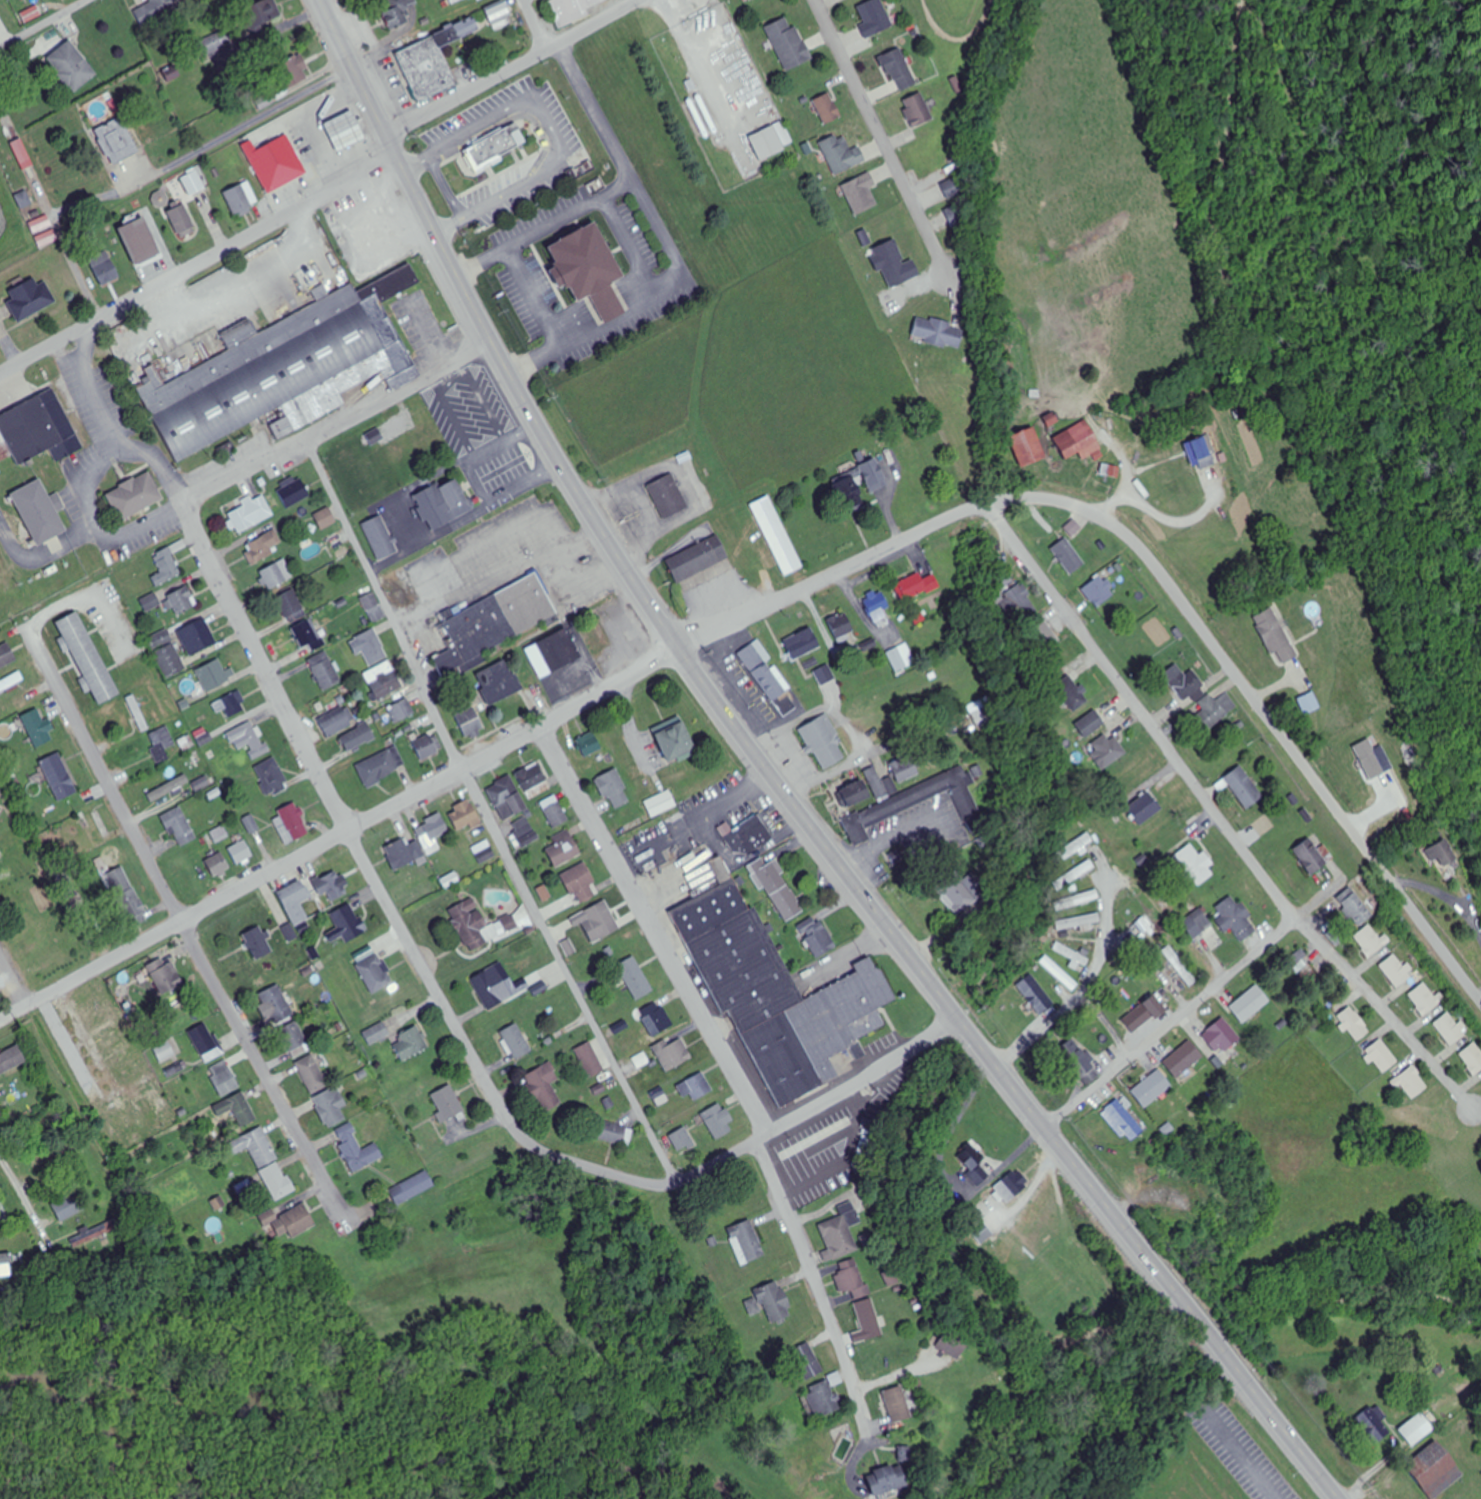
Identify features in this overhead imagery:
building: (751, 0)
building: (569, 6)
building: (159, 10)
building: (395, 11)
building: (498, 12)
building: (262, 14)
building: (875, 19)
road: (42, 23)
road: (538, 25)
building: (465, 28)
building: (219, 39)
building: (789, 43)
street lamp: (368, 48)
building: (427, 65)
building: (72, 67)
road: (516, 69)
building: (899, 71)
building: (291, 72)
building: (828, 108)
building: (918, 111)
road: (528, 116)
road: (5, 119)
road: (247, 125)
building: (343, 130)
gas station: (343, 130)
road: (553, 131)
road: (884, 137)
street lamp: (411, 138)
building: (772, 139)
building: (296, 140)
building: (116, 141)
building: (495, 144)
building: (843, 154)
building: (274, 163)
flagpole: (451, 180)
building: (193, 184)
road: (446, 186)
building: (861, 194)
building: (241, 199)
building: (182, 221)
road: (546, 226)
building: (362, 231)
road: (65, 240)
building: (140, 241)
road: (631, 243)
road: (673, 250)
flagpole: (528, 252)
road: (201, 263)
building: (104, 267)
building: (591, 267)
road: (1221, 274)
building: (391, 284)
road: (535, 296)
building: (30, 299)
street lamp: (502, 313)
building: (938, 333)
flagpole: (42, 368)
flagpole: (37, 376)
building: (277, 377)
street lamp: (551, 399)
building: (1051, 420)
road: (116, 426)
road: (338, 427)
building: (38, 430)
building: (424, 442)
building: (1079, 442)
building: (1028, 448)
building: (1205, 452)
flagpole: (123, 465)
building: (860, 485)
building: (375, 488)
building: (292, 492)
building: (668, 494)
building: (134, 495)
building: (446, 501)
building: (41, 511)
building: (251, 514)
building: (326, 519)
building: (777, 535)
building: (379, 538)
building: (263, 548)
building: (1068, 553)
building: (699, 557)
building: (166, 567)
building: (273, 577)
building: (917, 586)
building: (1099, 593)
building: (182, 602)
building: (151, 603)
building: (1017, 605)
building: (291, 607)
building: (878, 607)
building: (373, 608)
building: (493, 622)
building: (842, 629)
building: (308, 636)
building: (1044, 636)
building: (197, 638)
building: (1277, 638)
building: (803, 644)
building: (369, 648)
building: (166, 655)
building: (6, 656)
building: (88, 657)
building: (901, 658)
building: (564, 662)
building: (325, 672)
building: (213, 676)
building: (769, 676)
building: (824, 676)
building: (385, 681)
building: (11, 682)
building: (499, 683)
building: (1186, 684)
building: (1071, 694)
building: (878, 703)
building: (1310, 704)
building: (230, 705)
building: (1216, 711)
building: (401, 712)
building: (983, 718)
building: (338, 722)
building: (470, 723)
building: (1091, 725)
road: (544, 726)
building: (37, 729)
building: (674, 737)
building: (358, 738)
building: (248, 740)
building: (825, 741)
building: (161, 743)
building: (590, 745)
building: (428, 747)
building: (1108, 750)
road: (1294, 751)
building: (378, 769)
building: (906, 771)
building: (271, 776)
building: (59, 777)
road: (783, 780)
building: (533, 781)
building: (877, 784)
building: (1245, 788)
building: (614, 790)
building: (158, 793)
building: (857, 795)
building: (507, 799)
building: (913, 802)
building: (661, 804)
building: (1145, 809)
building: (555, 812)
road: (1224, 812)
building: (464, 816)
road: (488, 816)
road: (699, 820)
building: (291, 825)
building: (96, 826)
building: (179, 827)
building: (432, 832)
building: (524, 833)
building: (746, 835)
building: (1074, 849)
building: (564, 850)
building: (484, 852)
building: (241, 853)
building: (404, 854)
road: (748, 856)
building: (895, 857)
building: (1314, 857)
building: (217, 865)
building: (1196, 865)
building: (580, 884)
flagpole: (890, 886)
building: (331, 888)
building: (779, 888)
road: (385, 895)
building: (127, 897)
building: (956, 898)
building: (1083, 899)
building: (294, 902)
building: (1355, 907)
road: (178, 911)
building: (1236, 918)
building: (602, 921)
building: (1201, 921)
building: (1085, 922)
building: (347, 925)
building: (482, 925)
building: (1144, 927)
building: (816, 937)
building: (1370, 941)
building: (258, 944)
building: (33, 946)
building: (1071, 956)
building: (1180, 966)
building: (1398, 971)
building: (375, 974)
building: (1059, 974)
building: (164, 975)
road: (13, 976)
building: (635, 979)
road: (1083, 988)
building: (487, 991)
building: (777, 993)
building: (277, 1003)
building: (1251, 1005)
building: (1146, 1014)
building: (656, 1019)
road: (1172, 1023)
building: (1354, 1025)
building: (1452, 1029)
building: (376, 1033)
building: (1221, 1036)
road: (90, 1038)
building: (295, 1039)
building: (207, 1041)
building: (516, 1041)
building: (411, 1043)
building: (672, 1052)
building: (1382, 1057)
building: (1473, 1058)
building: (11, 1059)
building: (168, 1059)
building: (590, 1059)
building: (1184, 1060)
road: (732, 1067)
building: (1083, 1069)
building: (312, 1074)
building: (224, 1078)
building: (1412, 1083)
building: (544, 1087)
building: (695, 1087)
building: (1152, 1090)
building: (660, 1098)
building: (447, 1102)
road: (821, 1102)
building: (159, 1107)
building: (330, 1108)
building: (240, 1110)
building: (716, 1120)
building: (1123, 1121)
building: (123, 1129)
building: (615, 1133)
building: (682, 1140)
building: (256, 1147)
building: (357, 1149)
building: (50, 1156)
building: (973, 1166)
building: (280, 1184)
building: (1011, 1186)
building: (412, 1188)
road: (24, 1199)
building: (68, 1206)
building: (290, 1221)
building: (982, 1232)
building: (839, 1233)
building: (82, 1240)
building: (746, 1242)
building: (891, 1278)
building: (851, 1279)
building: (771, 1302)
building: (869, 1319)
building: (951, 1345)
building: (807, 1361)
building: (824, 1399)
building: (899, 1404)
building: (1373, 1426)
building: (1418, 1429)
road: (1239, 1450)
building: (1436, 1470)
road: (1373, 1475)
building: (885, 1480)

